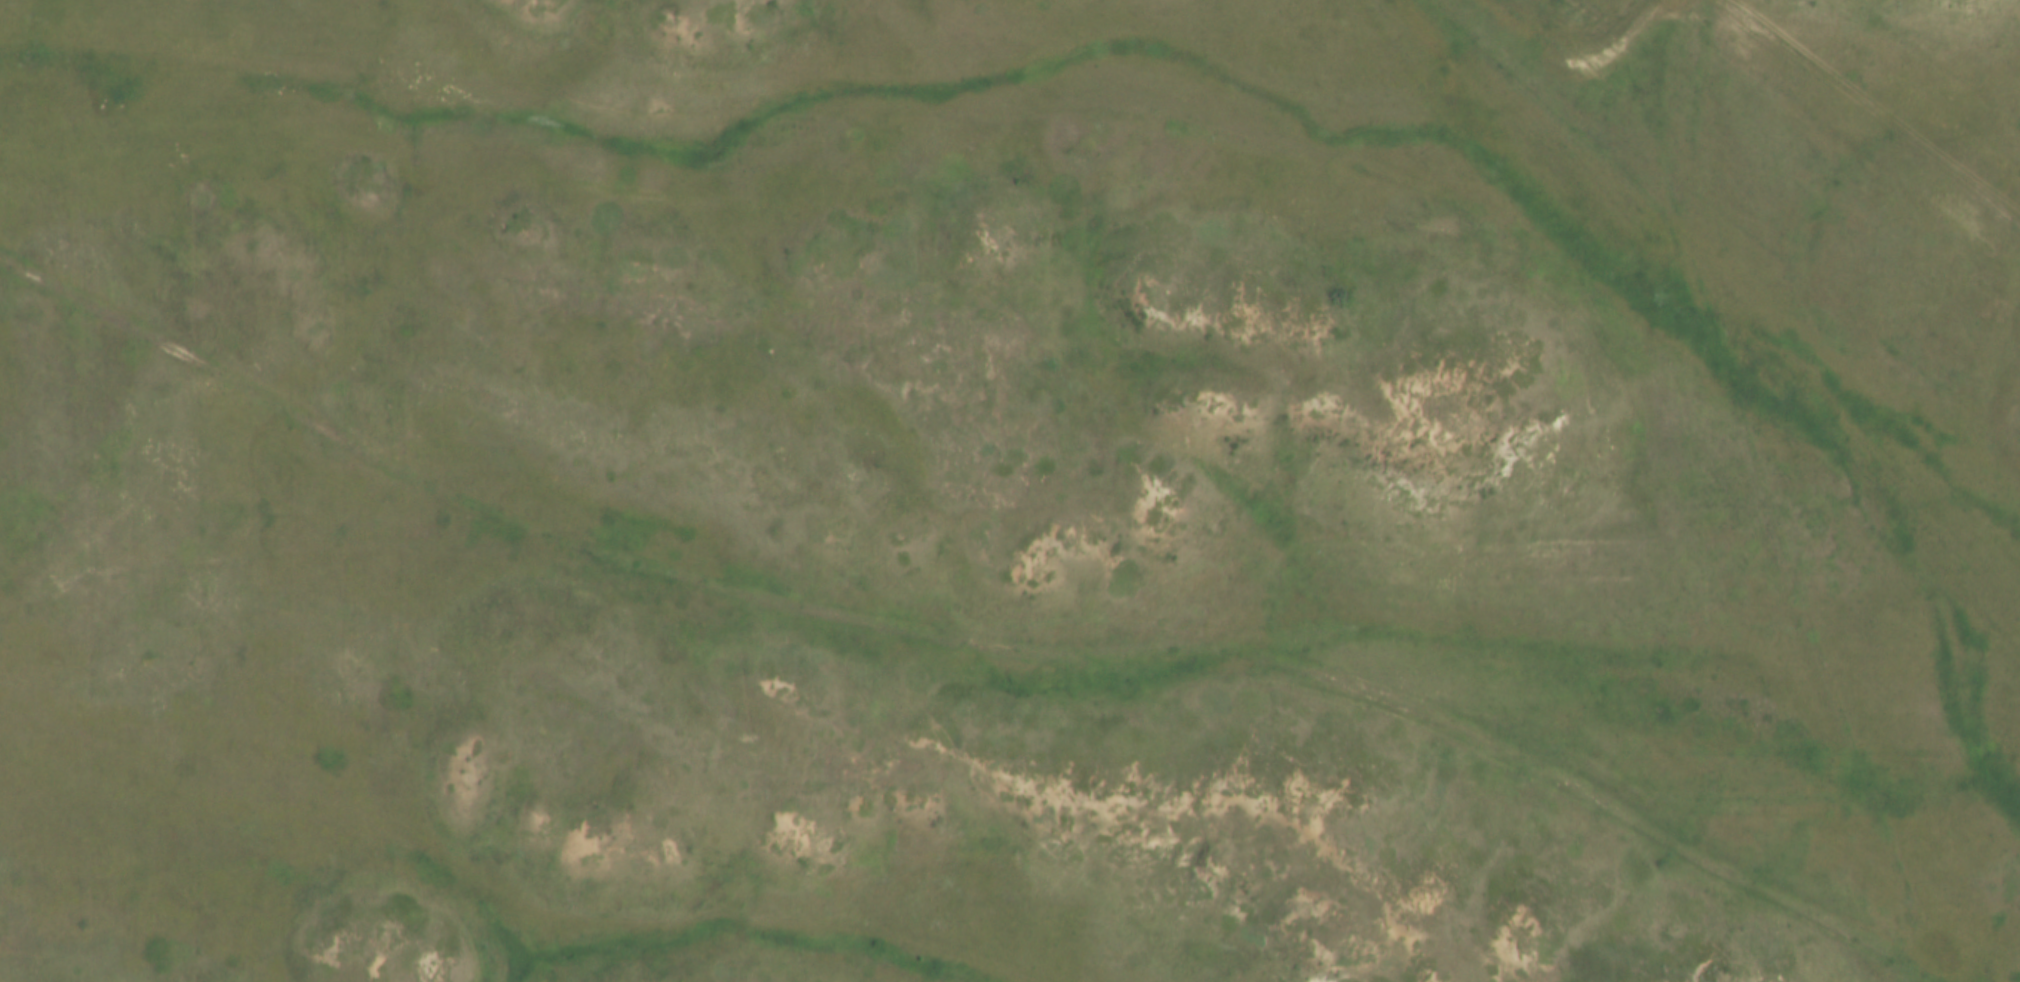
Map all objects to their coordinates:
road: (1867, 109)

